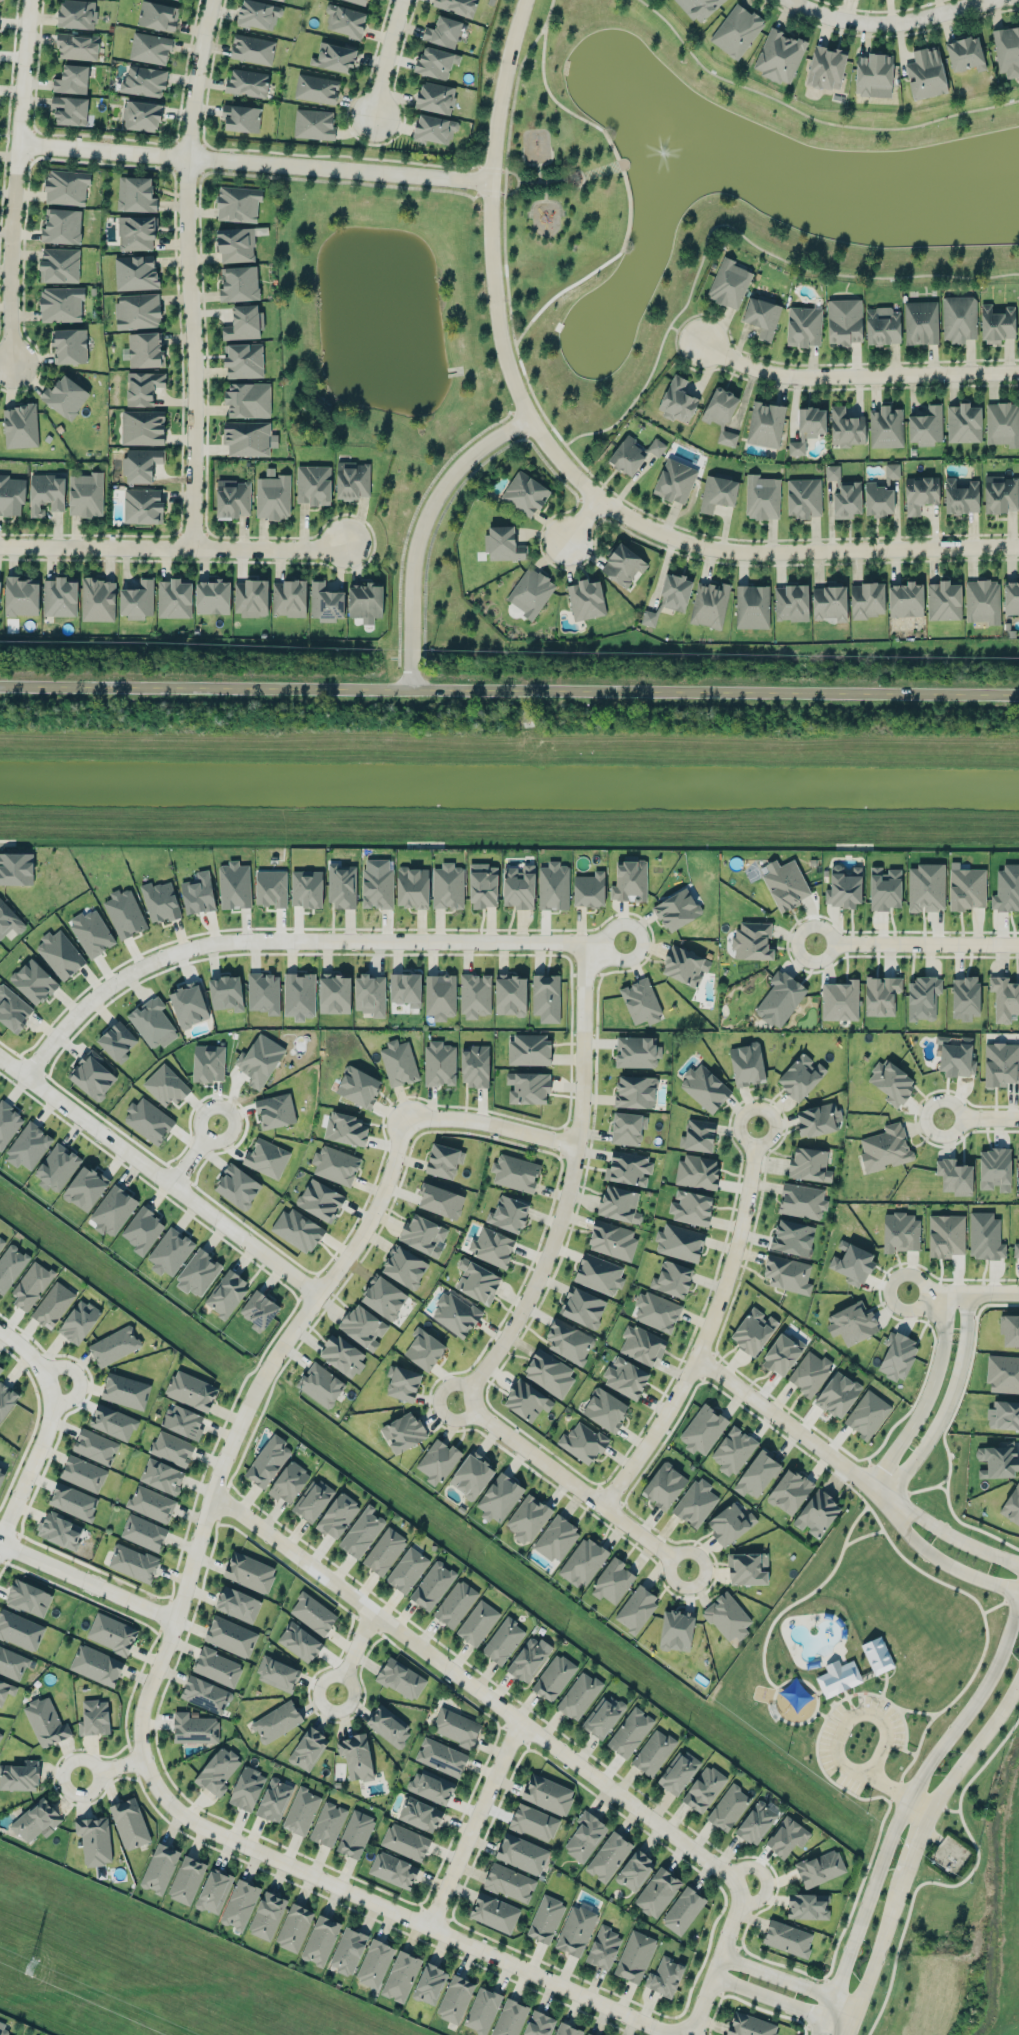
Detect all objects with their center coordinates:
building: (179, 0)
building: (361, 2)
building: (457, 6)
building: (699, 8)
building: (77, 13)
building: (258, 15)
building: (158, 16)
building: (345, 20)
road: (884, 22)
building: (736, 31)
building: (444, 32)
building: (77, 46)
building: (150, 48)
building: (252, 49)
building: (1007, 50)
building: (965, 54)
building: (779, 56)
building: (334, 57)
road: (386, 58)
building: (435, 62)
building: (826, 67)
building: (926, 73)
building: (874, 74)
building: (72, 79)
building: (144, 81)
building: (247, 83)
building: (316, 88)
building: (436, 97)
building: (70, 109)
building: (142, 115)
building: (241, 118)
road: (808, 118)
building: (314, 124)
building: (434, 128)
fountain: (674, 152)
road: (255, 161)
road: (537, 163)
road: (601, 170)
road: (538, 172)
road: (14, 180)
road: (624, 180)
road: (541, 181)
road: (518, 182)
building: (66, 187)
park: (556, 189)
road: (545, 190)
building: (136, 194)
road: (545, 200)
building: (238, 203)
road: (490, 210)
building: (62, 226)
road: (730, 229)
building: (136, 233)
building: (236, 245)
road: (504, 254)
building: (59, 265)
building: (135, 272)
road: (188, 272)
building: (239, 283)
building: (729, 283)
building: (61, 304)
building: (138, 311)
building: (762, 316)
building: (959, 318)
building: (844, 321)
building: (921, 322)
building: (244, 323)
building: (996, 323)
building: (804, 326)
building: (883, 326)
road: (681, 334)
building: (69, 345)
building: (145, 349)
building: (243, 360)
road: (1018, 360)
road: (854, 372)
building: (143, 387)
building: (65, 396)
building: (248, 399)
building: (678, 400)
building: (722, 415)
building: (963, 423)
building: (1003, 423)
building: (766, 424)
building: (20, 426)
building: (926, 426)
building: (143, 427)
building: (846, 427)
building: (886, 427)
building: (808, 428)
building: (249, 438)
building: (633, 454)
building: (141, 464)
building: (892, 470)
building: (353, 480)
building: (675, 481)
building: (314, 484)
building: (46, 493)
building: (525, 493)
building: (718, 493)
building: (920, 493)
building: (85, 494)
building: (844, 494)
building: (1000, 494)
building: (11, 495)
building: (273, 496)
building: (961, 496)
building: (762, 497)
building: (804, 497)
building: (233, 498)
building: (878, 500)
building: (142, 505)
road: (580, 518)
road: (421, 532)
building: (503, 543)
road: (172, 548)
road: (748, 551)
building: (623, 565)
building: (531, 592)
building: (675, 592)
building: (21, 596)
building: (212, 596)
building: (60, 597)
building: (251, 597)
building: (1011, 597)
building: (174, 598)
building: (289, 598)
building: (98, 599)
building: (586, 599)
building: (867, 599)
building: (905, 599)
building: (137, 600)
building: (943, 600)
building: (366, 601)
building: (982, 601)
building: (325, 602)
building: (791, 602)
building: (830, 603)
building: (709, 604)
building: (752, 606)
building: (649, 618)
road: (206, 687)
road: (716, 692)
building: (16, 868)
building: (630, 881)
building: (785, 883)
building: (234, 885)
building: (483, 885)
building: (342, 886)
building: (377, 886)
building: (447, 886)
building: (519, 886)
building: (553, 886)
building: (271, 887)
building: (412, 887)
building: (844, 887)
building: (926, 887)
building: (967, 887)
building: (306, 888)
building: (884, 888)
building: (1006, 888)
building: (589, 889)
building: (198, 893)
building: (160, 901)
building: (677, 909)
building: (124, 913)
building: (9, 920)
building: (91, 932)
road: (300, 940)
building: (752, 941)
road: (916, 943)
building: (60, 954)
building: (685, 965)
building: (33, 981)
building: (405, 988)
building: (226, 992)
building: (264, 992)
building: (334, 993)
building: (370, 994)
building: (510, 994)
building: (299, 995)
building: (475, 995)
building: (881, 995)
building: (440, 996)
building: (546, 997)
building: (965, 997)
building: (780, 998)
building: (923, 998)
building: (1004, 998)
building: (840, 1000)
building: (641, 1002)
building: (189, 1004)
building: (12, 1009)
building: (152, 1022)
building: (117, 1041)
building: (529, 1049)
building: (637, 1052)
building: (956, 1056)
building: (259, 1060)
building: (399, 1062)
building: (208, 1063)
building: (439, 1063)
building: (747, 1064)
building: (1001, 1064)
building: (475, 1065)
building: (92, 1075)
building: (800, 1076)
building: (892, 1082)
building: (166, 1085)
building: (358, 1086)
building: (528, 1087)
building: (704, 1088)
building: (635, 1091)
road: (952, 1101)
building: (275, 1110)
road: (990, 1118)
building: (818, 1119)
building: (148, 1120)
building: (8, 1123)
road: (492, 1124)
building: (346, 1128)
building: (627, 1128)
building: (698, 1135)
building: (28, 1146)
building: (885, 1147)
road: (195, 1155)
building: (1018, 1156)
building: (267, 1157)
building: (443, 1160)
building: (335, 1164)
building: (809, 1165)
building: (57, 1167)
building: (629, 1168)
building: (995, 1169)
building: (697, 1171)
building: (515, 1172)
building: (954, 1176)
road: (160, 1177)
road: (569, 1184)
building: (237, 1186)
building: (85, 1188)
building: (320, 1200)
building: (440, 1200)
building: (802, 1200)
building: (619, 1204)
building: (691, 1207)
building: (113, 1210)
building: (508, 1213)
building: (1018, 1220)
building: (298, 1229)
building: (143, 1230)
building: (901, 1232)
building: (423, 1235)
building: (946, 1235)
building: (985, 1236)
building: (792, 1238)
building: (612, 1239)
building: (1, 1242)
building: (680, 1242)
building: (492, 1246)
building: (1016, 1250)
building: (170, 1251)
building: (852, 1263)
building: (11, 1266)
building: (404, 1266)
building: (198, 1272)
building: (599, 1274)
building: (787, 1274)
building: (672, 1279)
building: (477, 1281)
building: (31, 1285)
road: (963, 1292)
building: (226, 1293)
building: (383, 1297)
building: (53, 1304)
building: (582, 1307)
building: (259, 1310)
building: (656, 1311)
building: (455, 1314)
building: (79, 1321)
building: (852, 1323)
road: (710, 1325)
building: (363, 1326)
building: (753, 1330)
building: (1009, 1330)
building: (569, 1341)
building: (642, 1344)
building: (114, 1345)
building: (424, 1348)
building: (782, 1353)
road: (30, 1355)
building: (342, 1355)
building: (897, 1355)
building: (0, 1368)
building: (809, 1372)
building: (1003, 1373)
building: (549, 1374)
building: (625, 1377)
building: (402, 1382)
building: (321, 1384)
building: (191, 1390)
building: (125, 1391)
building: (838, 1394)
road: (928, 1396)
building: (6, 1400)
building: (526, 1400)
road: (948, 1404)
building: (605, 1409)
building: (867, 1414)
building: (1003, 1415)
building: (113, 1421)
building: (183, 1421)
road: (241, 1423)
building: (703, 1429)
road: (799, 1431)
building: (403, 1432)
building: (582, 1442)
building: (95, 1446)
building: (172, 1448)
building: (733, 1450)
road: (32, 1460)
building: (268, 1460)
building: (998, 1460)
building: (437, 1461)
building: (1, 1473)
building: (83, 1473)
building: (757, 1473)
building: (472, 1475)
building: (162, 1476)
building: (289, 1482)
road: (576, 1482)
building: (664, 1485)
building: (790, 1491)
building: (499, 1497)
building: (73, 1500)
building: (312, 1500)
building: (696, 1502)
building: (151, 1503)
building: (1012, 1505)
building: (817, 1513)
building: (338, 1515)
building: (527, 1518)
building: (730, 1523)
building: (60, 1530)
building: (362, 1531)
building: (143, 1532)
road: (957, 1536)
building: (556, 1538)
building: (384, 1550)
building: (133, 1562)
building: (583, 1562)
road: (948, 1562)
building: (747, 1568)
building: (407, 1570)
building: (249, 1572)
road: (88, 1581)
building: (613, 1581)
building: (432, 1585)
building: (28, 1597)
building: (455, 1603)
building: (237, 1604)
building: (636, 1609)
building: (313, 1613)
building: (727, 1616)
building: (477, 1622)
building: (20, 1630)
building: (676, 1630)
building: (111, 1633)
building: (230, 1636)
building: (503, 1640)
building: (300, 1641)
road: (355, 1652)
building: (877, 1655)
building: (527, 1660)
building: (12, 1663)
building: (96, 1665)
building: (217, 1666)
building: (277, 1673)
building: (554, 1677)
building: (838, 1677)
building: (401, 1678)
building: (6, 1690)
road: (479, 1690)
building: (205, 1694)
building: (579, 1695)
building: (603, 1716)
road: (877, 1716)
building: (94, 1717)
building: (277, 1721)
building: (46, 1722)
building: (389, 1725)
building: (456, 1727)
building: (194, 1728)
building: (630, 1732)
building: (0, 1733)
parking lot: (860, 1737)
building: (308, 1748)
building: (653, 1752)
building: (356, 1756)
building: (441, 1757)
road: (111, 1767)
building: (218, 1771)
building: (678, 1772)
building: (20, 1776)
building: (431, 1787)
building: (247, 1788)
building: (704, 1788)
building: (547, 1794)
building: (274, 1799)
building: (729, 1807)
road: (917, 1808)
road: (903, 1809)
building: (301, 1811)
building: (420, 1814)
building: (37, 1820)
building: (534, 1822)
building: (756, 1822)
building: (130, 1823)
building: (328, 1823)
road: (474, 1823)
building: (355, 1833)
building: (585, 1836)
building: (786, 1836)
building: (95, 1839)
building: (405, 1841)
road: (913, 1850)
building: (521, 1853)
building: (608, 1856)
building: (160, 1868)
building: (820, 1868)
building: (393, 1869)
building: (635, 1870)
building: (187, 1879)
building: (509, 1882)
building: (214, 1891)
building: (657, 1892)
building: (240, 1904)
building: (808, 1906)
building: (683, 1910)
road: (396, 1912)
building: (494, 1912)
building: (267, 1915)
building: (546, 1919)
building: (294, 1927)
building: (576, 1930)
building: (787, 1938)
building: (320, 1940)
building: (604, 1947)
building: (348, 1950)
building: (635, 1956)
road: (718, 1961)
building: (374, 1963)
power tower: (31, 1967)
building: (401, 1976)
building: (665, 1976)
road: (789, 1980)
building: (429, 1983)
building: (455, 1998)
road: (781, 2001)
building: (482, 2010)
building: (510, 2018)
building: (539, 2024)
building: (749, 2025)
building: (4, 2029)
building: (586, 2034)

